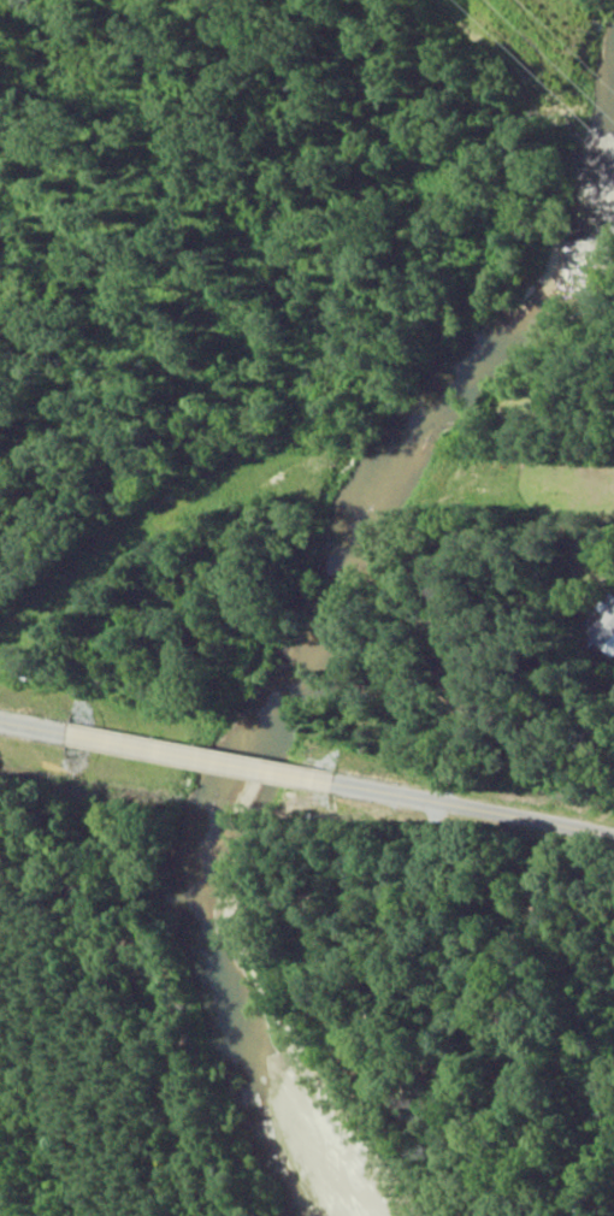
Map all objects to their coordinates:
building: (607, 627)
road: (382, 695)
road: (306, 831)

